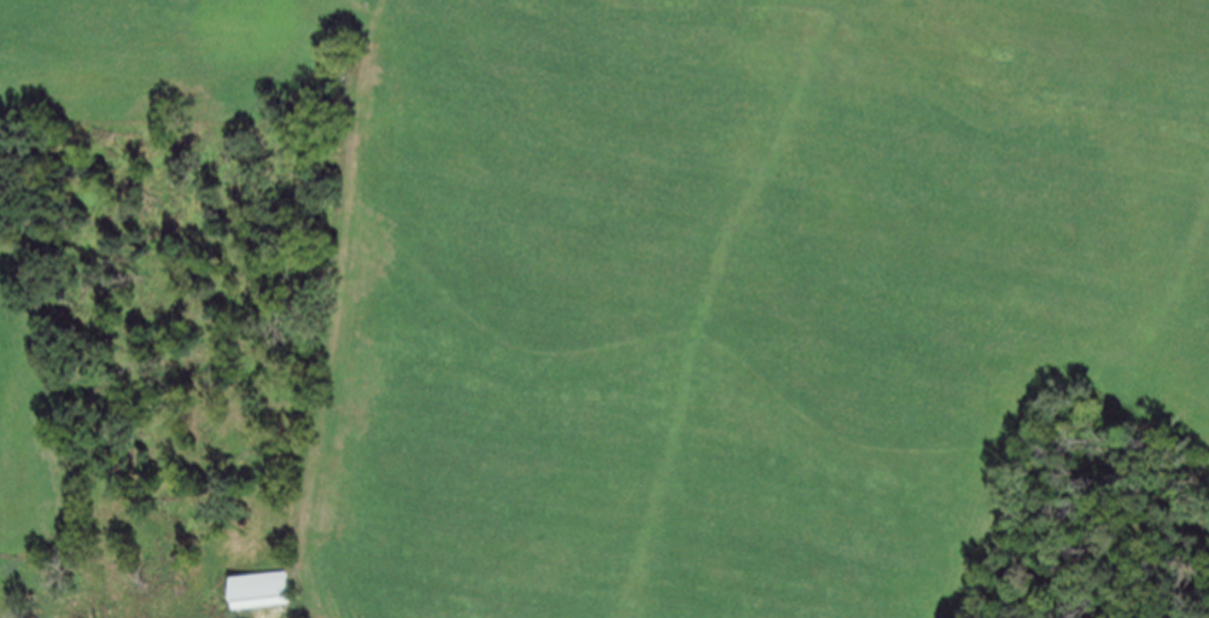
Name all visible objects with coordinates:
crop: (701, 273)
road: (329, 343)
crop: (28, 435)
building: (256, 590)

